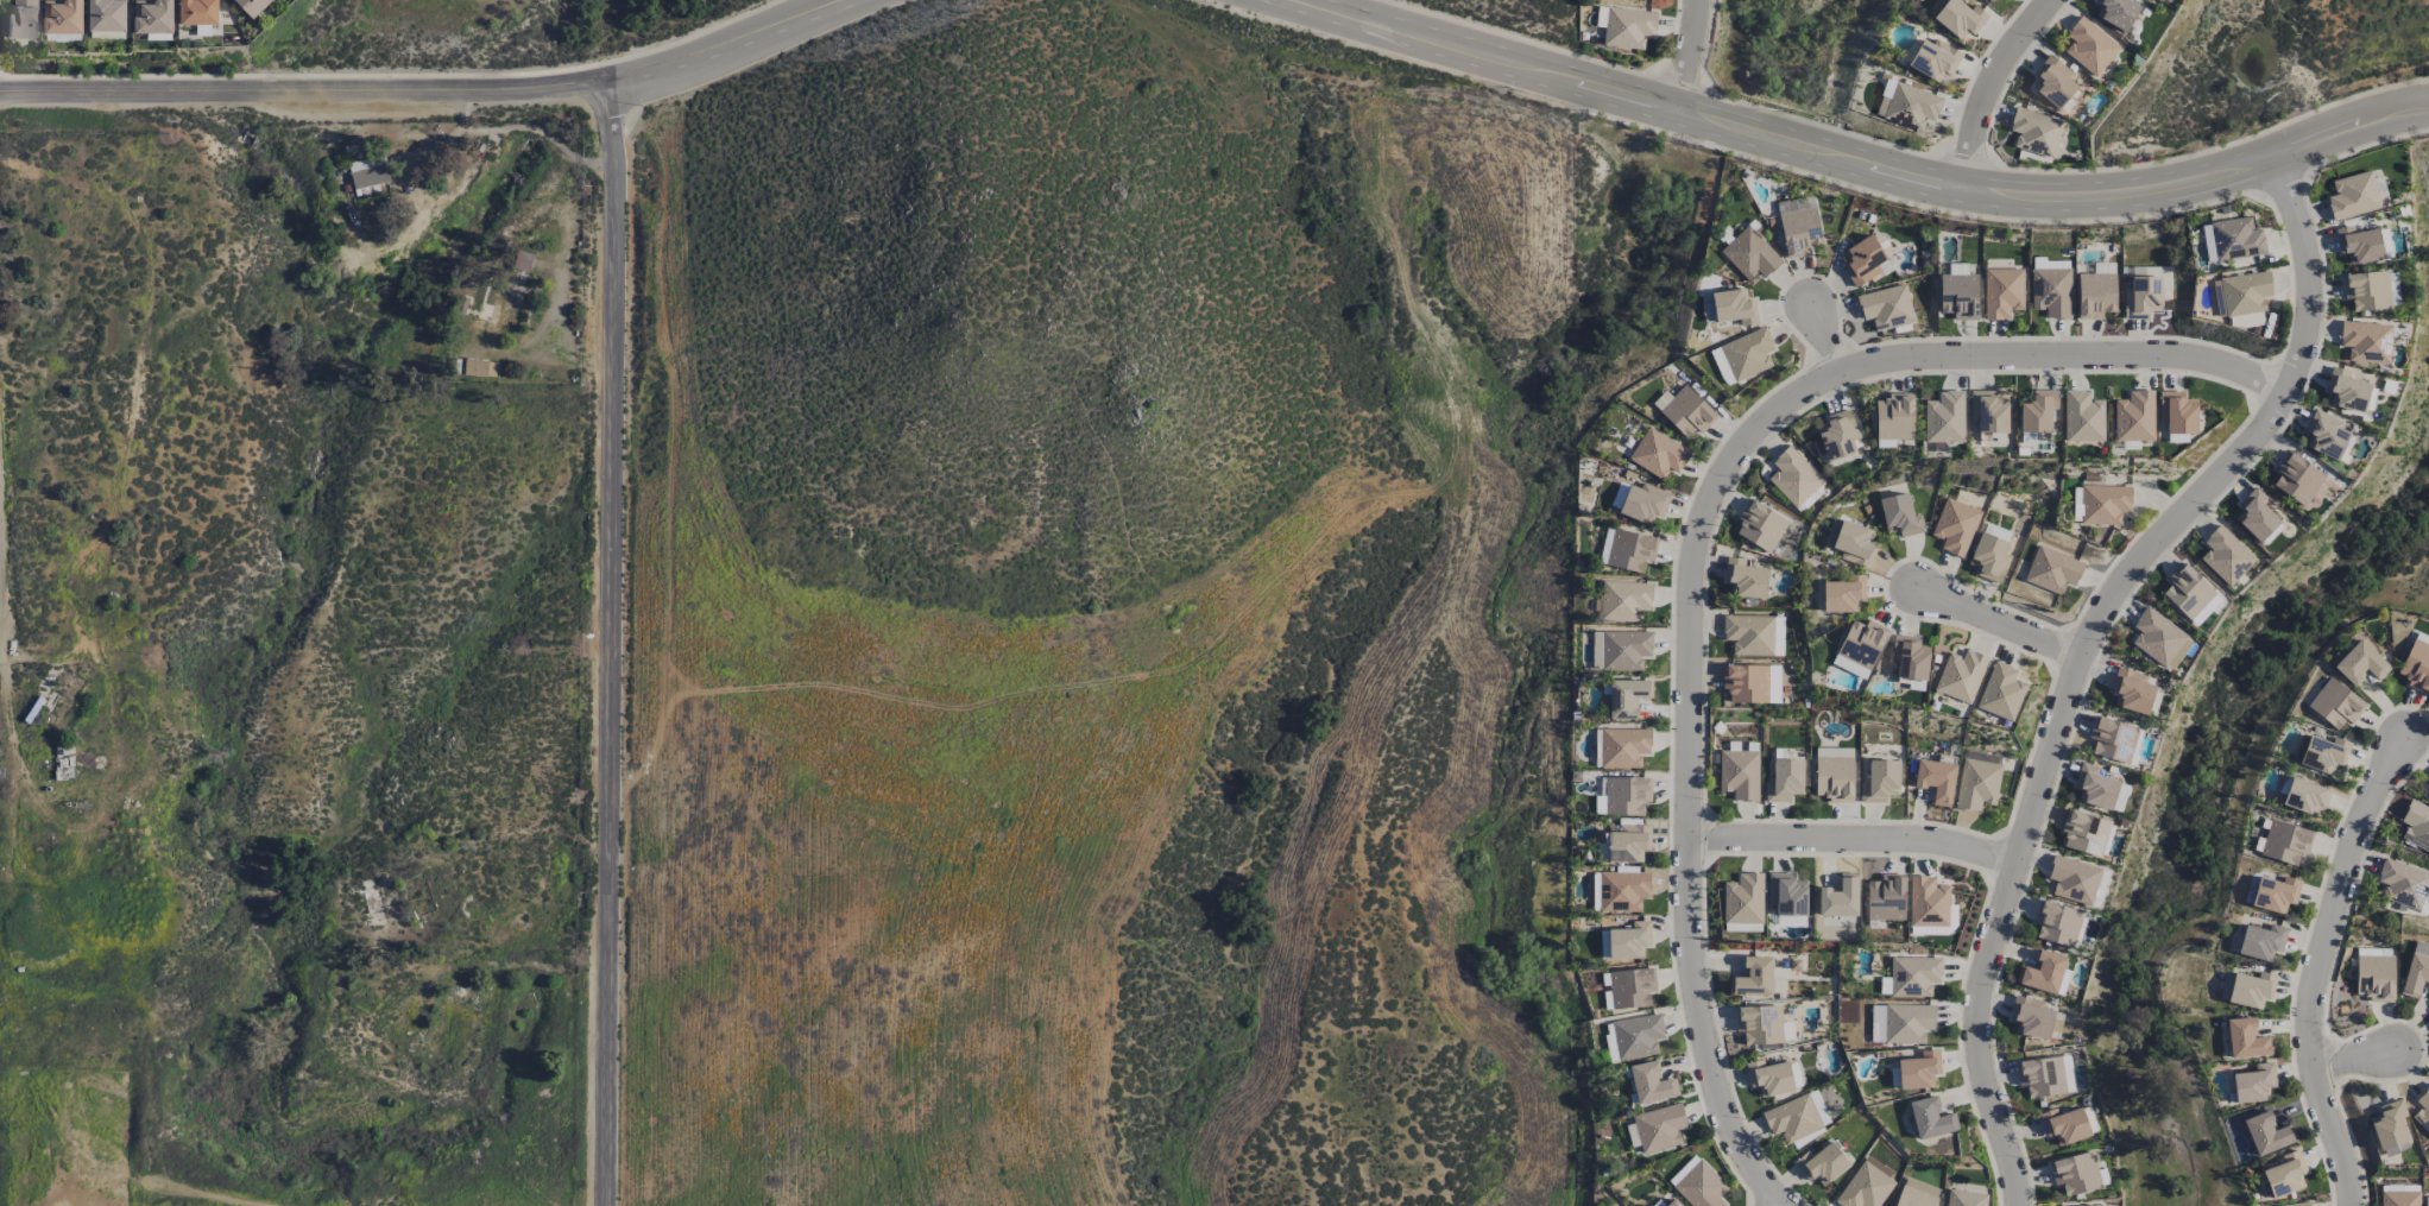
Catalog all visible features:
building: (1990, 0)
building: (253, 6)
building: (198, 12)
building: (2118, 12)
building: (108, 15)
building: (153, 15)
building: (63, 17)
building: (1960, 18)
building: (20, 19)
building: (1628, 27)
building: (2089, 45)
road: (1687, 57)
building: (1933, 58)
building: (2056, 84)
road: (1987, 88)
road: (427, 91)
building: (1907, 105)
road: (522, 126)
building: (2036, 132)
road: (431, 145)
road: (1851, 165)
building: (368, 171)
building: (2353, 195)
building: (2236, 239)
building: (2385, 242)
building: (2208, 244)
building: (2359, 245)
building: (1750, 254)
building: (1865, 261)
building: (1957, 269)
building: (2051, 286)
building: (2393, 289)
building: (2366, 290)
building: (2002, 292)
building: (2245, 292)
building: (2096, 295)
building: (1960, 296)
building: (2143, 296)
building: (1734, 307)
building: (1886, 307)
building: (1706, 308)
building: (2246, 320)
road: (1822, 341)
building: (2366, 341)
building: (1748, 353)
road: (538, 355)
building: (475, 366)
building: (1722, 366)
building: (2346, 390)
building: (1988, 411)
building: (2038, 411)
building: (1687, 412)
building: (2177, 412)
building: (2083, 416)
building: (1894, 417)
building: (1945, 417)
building: (2134, 417)
building: (1838, 435)
building: (2326, 435)
building: (2036, 436)
building: (1658, 454)
building: (1793, 476)
building: (2297, 478)
building: (1645, 503)
building: (2105, 504)
building: (2076, 506)
building: (1900, 514)
building: (2257, 517)
building: (1760, 525)
building: (1956, 526)
road: (1696, 542)
building: (1630, 550)
building: (2226, 555)
building: (1990, 556)
building: (2052, 569)
building: (1745, 579)
building: (1843, 594)
building: (2190, 594)
building: (1624, 600)
road: (1999, 625)
road: (1, 631)
building: (1749, 634)
building: (1778, 636)
building: (2159, 638)
road: (612, 643)
building: (1862, 643)
building: (1626, 649)
road: (1, 650)
building: (1596, 650)
road: (2082, 655)
building: (1911, 657)
building: (2360, 663)
building: (2416, 663)
building: (1961, 675)
building: (1746, 683)
building: (1774, 684)
building: (2132, 690)
building: (2001, 692)
building: (1627, 697)
building: (2335, 703)
building: (2113, 739)
building: (1623, 747)
building: (2320, 752)
building: (1740, 774)
building: (1834, 778)
building: (1936, 779)
building: (1785, 781)
building: (1880, 781)
building: (1977, 784)
building: (2095, 787)
building: (1627, 795)
building: (2305, 796)
building: (2416, 825)
building: (2084, 832)
road: (1851, 840)
building: (1629, 842)
building: (2285, 842)
building: (2074, 879)
building: (2402, 883)
building: (1623, 890)
building: (1787, 894)
building: (2275, 894)
building: (1840, 897)
building: (1886, 898)
building: (1743, 899)
building: (1928, 902)
building: (2057, 922)
building: (1629, 940)
building: (2261, 941)
building: (1603, 945)
road: (2317, 966)
building: (2042, 972)
building: (2416, 974)
building: (1913, 975)
building: (1753, 977)
building: (2376, 977)
building: (1628, 987)
building: (2247, 989)
building: (2033, 1017)
building: (1907, 1022)
building: (1878, 1023)
building: (1760, 1024)
building: (1638, 1036)
building: (2246, 1038)
road: (2357, 1061)
building: (1918, 1071)
building: (2045, 1075)
building: (1769, 1078)
building: (1652, 1082)
building: (2254, 1084)
building: (2423, 1110)
building: (1797, 1116)
building: (1931, 1118)
building: (2065, 1125)
building: (1659, 1128)
building: (2390, 1128)
building: (2266, 1134)
building: (1822, 1164)
building: (1683, 1170)
building: (2076, 1173)
building: (2284, 1175)
building: (1702, 1186)
building: (1867, 1186)
building: (1916, 1194)
building: (1964, 1198)
building: (2399, 1198)
building: (2427, 1200)
building: (1667, 1202)
building: (2299, 1204)
building: (2097, 1205)

